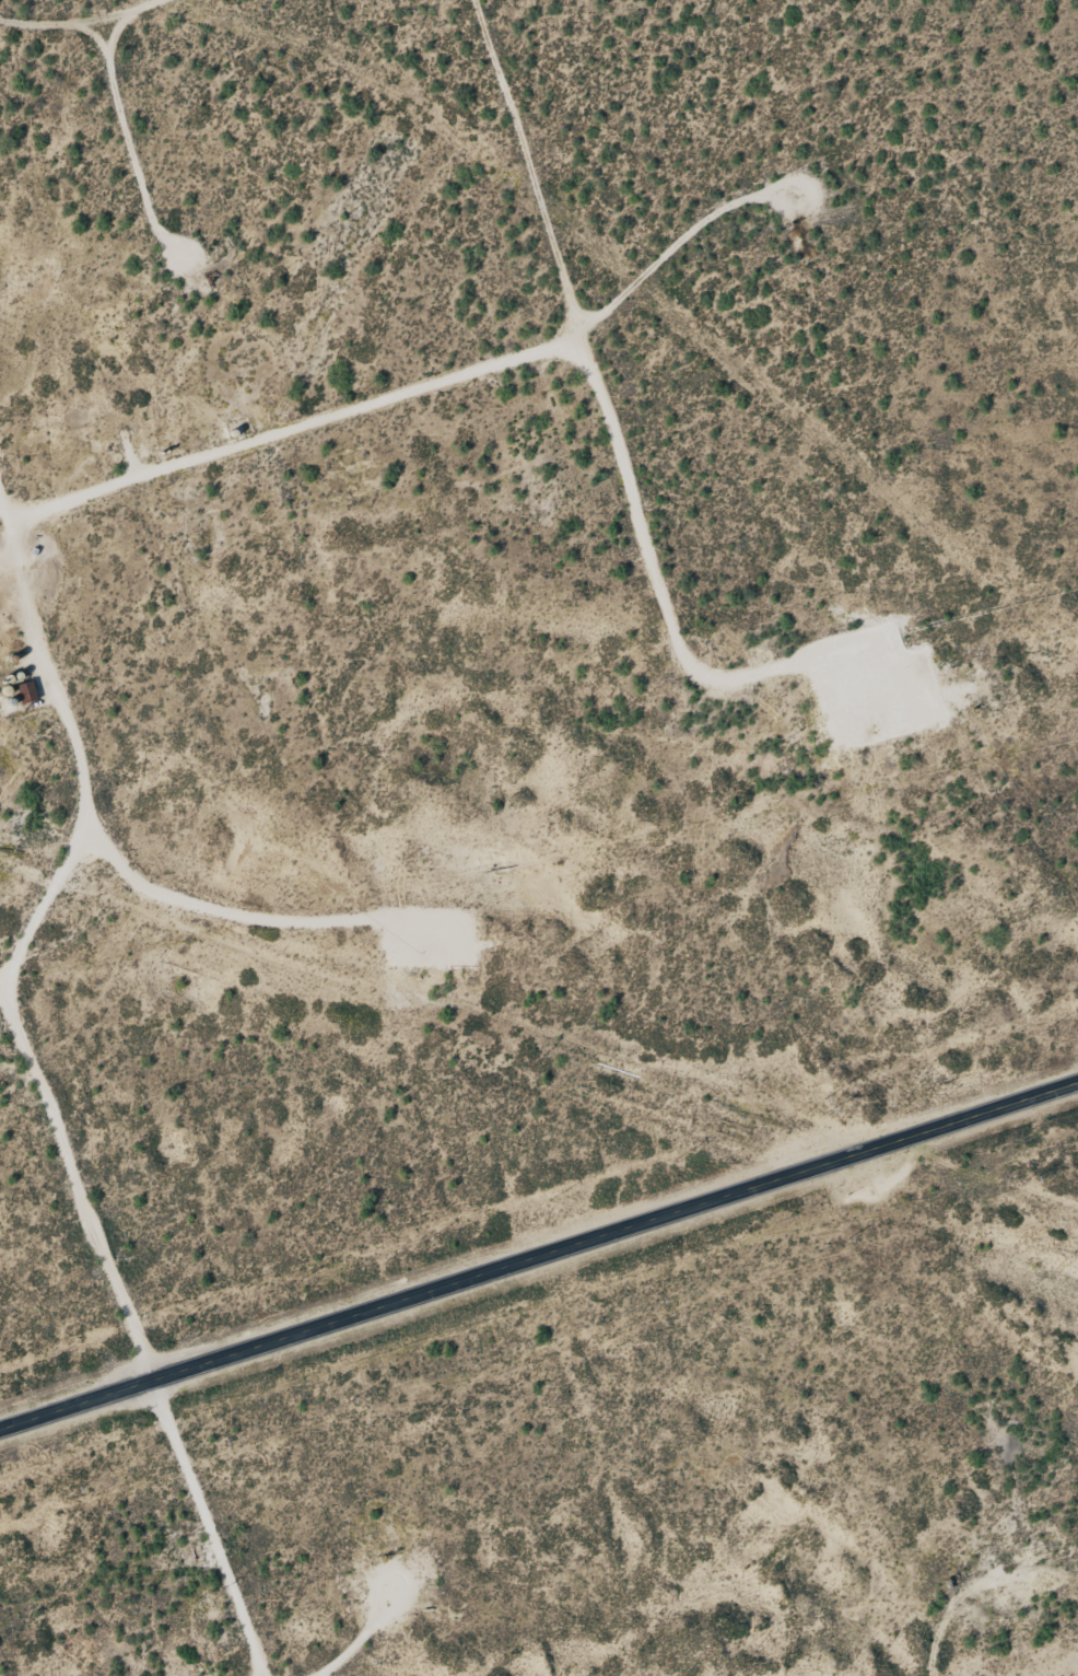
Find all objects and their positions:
road: (102, 24)
road: (297, 439)
road: (653, 524)
road: (54, 1097)
road: (538, 1250)
road: (966, 1653)

